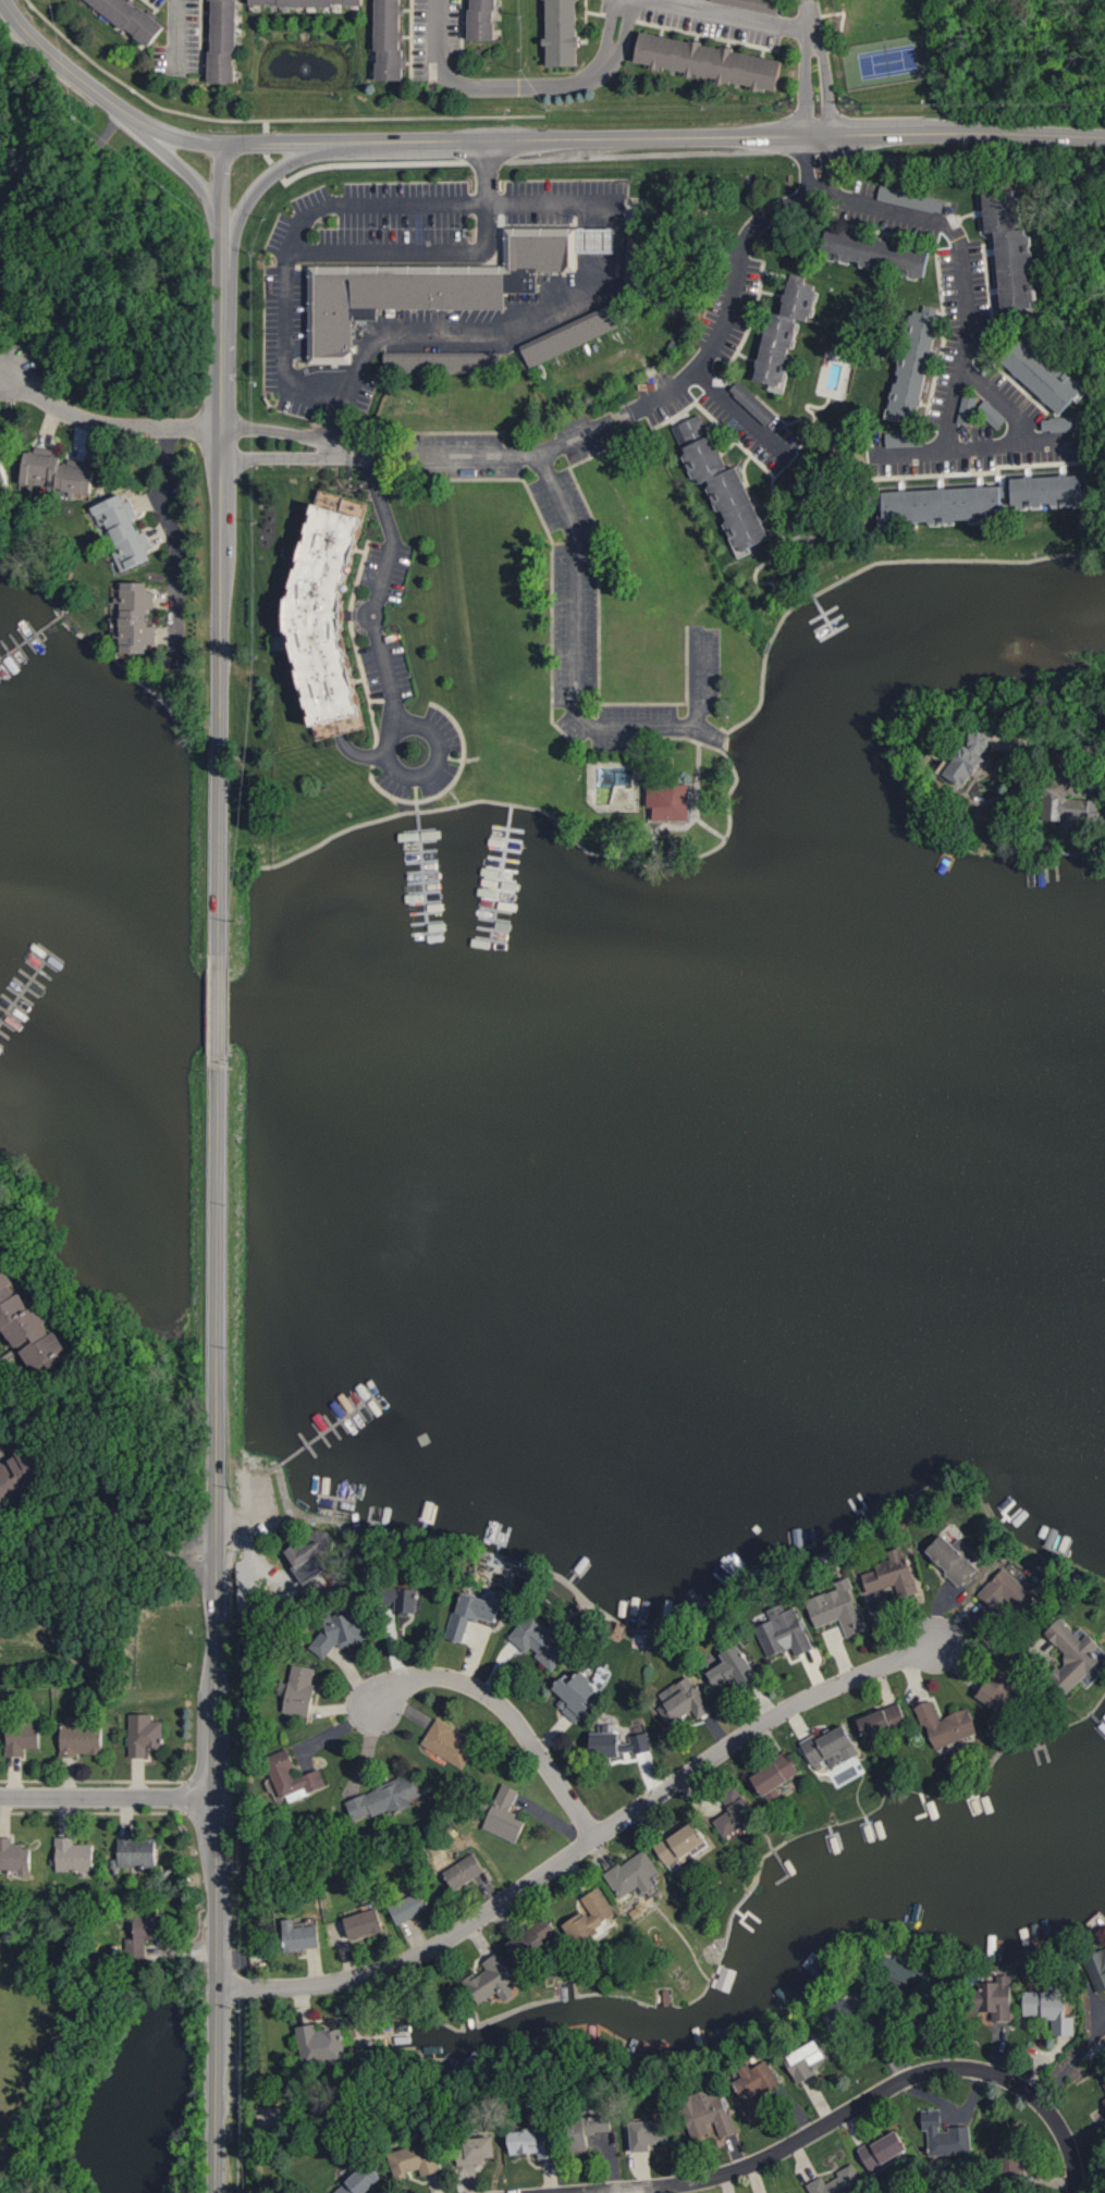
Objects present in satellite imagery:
building: (314, 2)
building: (753, 4)
road: (728, 16)
building: (134, 19)
building: (486, 20)
building: (565, 32)
road: (179, 38)
building: (392, 39)
building: (225, 40)
building: (715, 61)
road: (814, 67)
road: (523, 87)
road: (99, 94)
road: (263, 121)
road: (664, 141)
road: (961, 147)
road: (652, 155)
road: (348, 163)
road: (819, 168)
road: (188, 171)
road: (487, 174)
road: (259, 186)
road: (223, 190)
building: (912, 199)
road: (888, 209)
building: (606, 242)
road: (410, 252)
building: (881, 252)
building: (429, 286)
building: (803, 300)
road: (222, 306)
building: (575, 333)
building: (779, 349)
road: (283, 358)
building: (920, 361)
building: (440, 362)
road: (3, 375)
building: (1048, 377)
road: (3, 382)
road: (1002, 402)
building: (752, 403)
building: (968, 409)
building: (993, 414)
road: (744, 415)
road: (266, 423)
building: (1061, 423)
road: (119, 427)
road: (1046, 428)
building: (905, 440)
road: (946, 451)
road: (523, 454)
road: (274, 455)
road: (221, 466)
building: (4, 472)
building: (61, 472)
building: (724, 483)
building: (1054, 491)
building: (948, 505)
building: (126, 532)
road: (175, 547)
road: (375, 603)
building: (332, 616)
building: (137, 617)
road: (575, 657)
road: (699, 678)
road: (267, 704)
road: (1066, 744)
road: (220, 755)
building: (673, 800)
building: (1078, 809)
road: (218, 1019)
building: (30, 1328)
road: (217, 1392)
building: (22, 1476)
road: (108, 1498)
building: (4, 1513)
building: (315, 1556)
building: (955, 1561)
building: (895, 1575)
building: (1009, 1592)
building: (406, 1601)
building: (840, 1609)
building: (476, 1611)
building: (344, 1631)
building: (785, 1631)
building: (544, 1639)
road: (995, 1644)
building: (1077, 1653)
building: (737, 1668)
building: (303, 1690)
building: (1000, 1691)
building: (578, 1697)
building: (685, 1701)
road: (508, 1714)
building: (885, 1721)
building: (948, 1725)
building: (145, 1734)
building: (23, 1739)
building: (84, 1740)
road: (216, 1740)
building: (617, 1742)
building: (451, 1744)
building: (831, 1744)
building: (295, 1777)
building: (777, 1777)
road: (108, 1798)
building: (388, 1798)
building: (508, 1815)
building: (739, 1819)
building: (686, 1844)
road: (586, 1845)
building: (138, 1852)
building: (75, 1856)
building: (15, 1858)
building: (466, 1870)
building: (636, 1874)
road: (217, 1884)
building: (410, 1907)
building: (594, 1915)
building: (366, 1923)
building: (147, 1934)
building: (303, 1936)
building: (536, 1941)
building: (907, 1969)
building: (1097, 1970)
building: (494, 1980)
building: (1003, 1998)
building: (1052, 2009)
building: (322, 2044)
building: (809, 2061)
road: (1073, 2063)
road: (217, 2090)
building: (759, 2090)
road: (238, 2091)
road: (864, 2100)
building: (710, 2115)
building: (598, 2124)
building: (653, 2134)
building: (947, 2135)
building: (537, 2142)
building: (886, 2149)
building: (478, 2152)
building: (418, 2159)
building: (1016, 2160)
building: (363, 2181)
building: (839, 2182)

